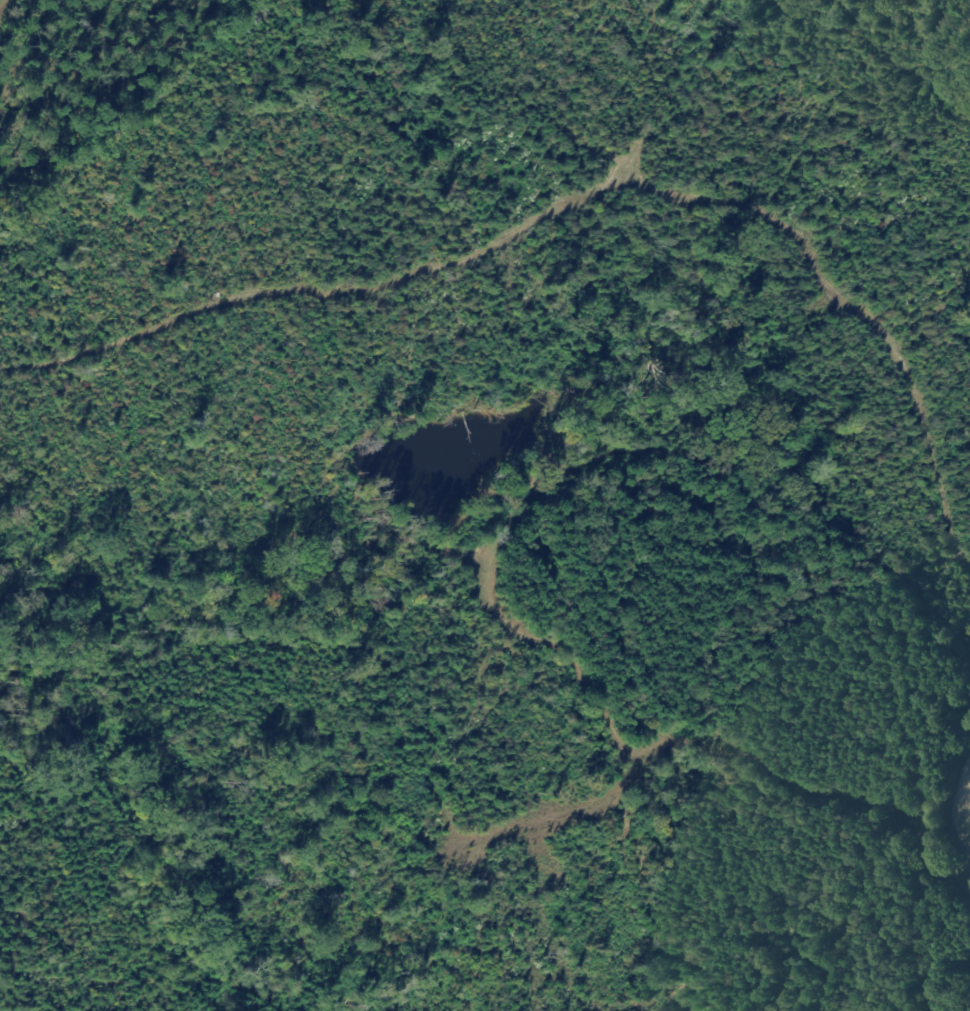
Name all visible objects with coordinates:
road: (966, 620)

